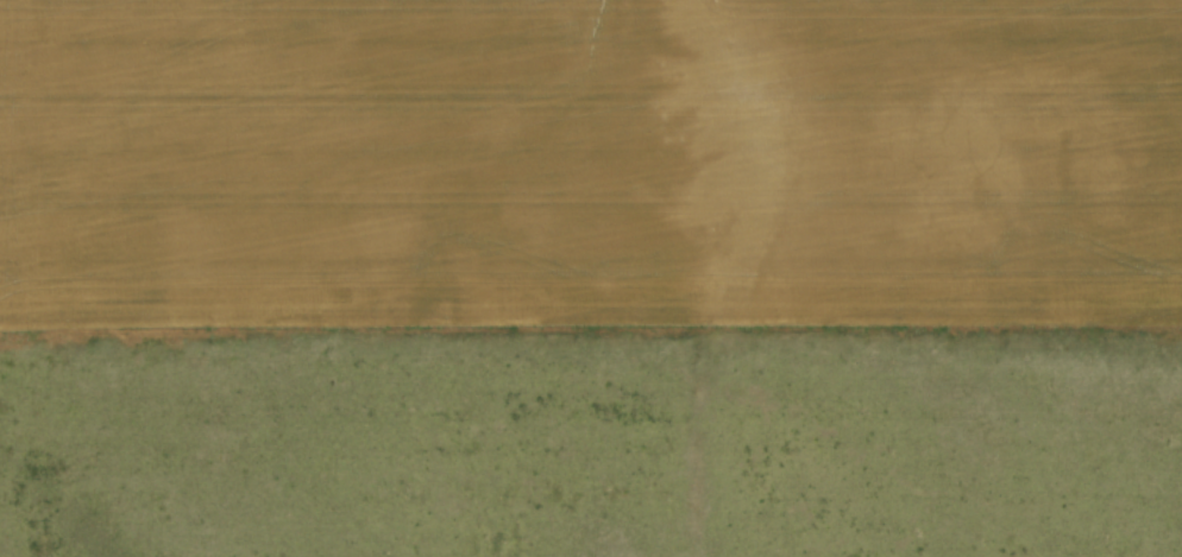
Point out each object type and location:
crop: (592, 160)

